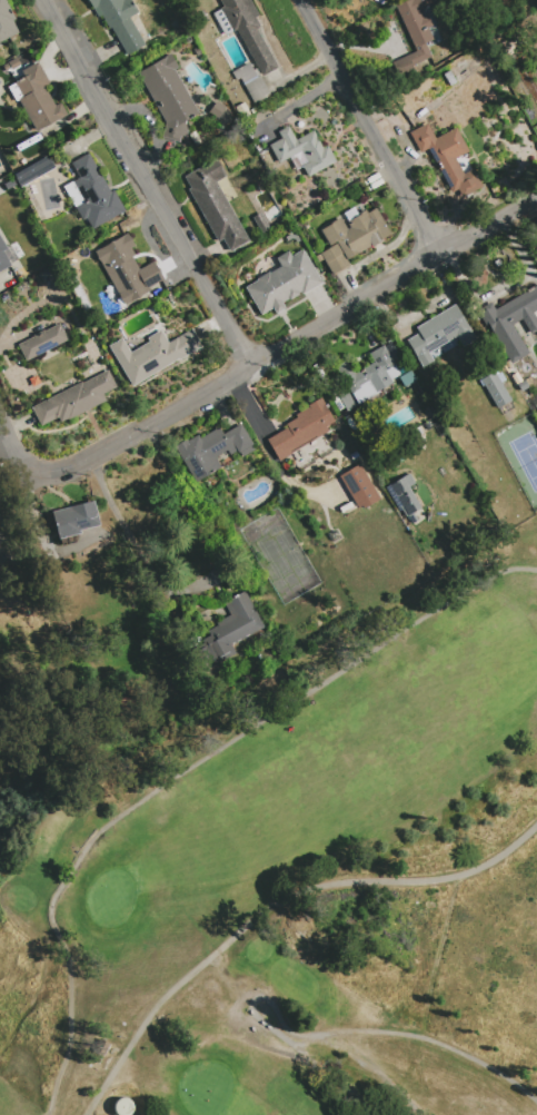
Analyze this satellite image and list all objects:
building: (7, 21)
building: (119, 21)
building: (246, 30)
building: (415, 32)
building: (11, 65)
building: (251, 81)
building: (168, 97)
building: (36, 98)
building: (217, 109)
building: (241, 109)
road: (372, 127)
building: (301, 151)
building: (447, 157)
building: (34, 170)
road: (147, 182)
building: (10, 185)
building: (92, 194)
building: (215, 204)
building: (261, 223)
building: (292, 237)
building: (351, 238)
building: (3, 257)
building: (127, 269)
building: (47, 274)
building: (284, 283)
building: (4, 297)
building: (513, 322)
building: (439, 333)
road: (295, 341)
building: (42, 342)
building: (152, 354)
building: (406, 375)
building: (364, 378)
building: (34, 381)
building: (523, 385)
building: (496, 389)
building: (73, 399)
building: (301, 430)
road: (2, 434)
road: (17, 448)
building: (212, 450)
building: (359, 486)
building: (406, 495)
building: (74, 521)
road: (137, 550)
building: (229, 630)
road: (183, 771)
park: (300, 885)
park: (110, 897)
road: (272, 908)
road: (394, 1034)
road: (309, 1057)
road: (371, 1068)
park: (205, 1088)
building: (120, 1107)

